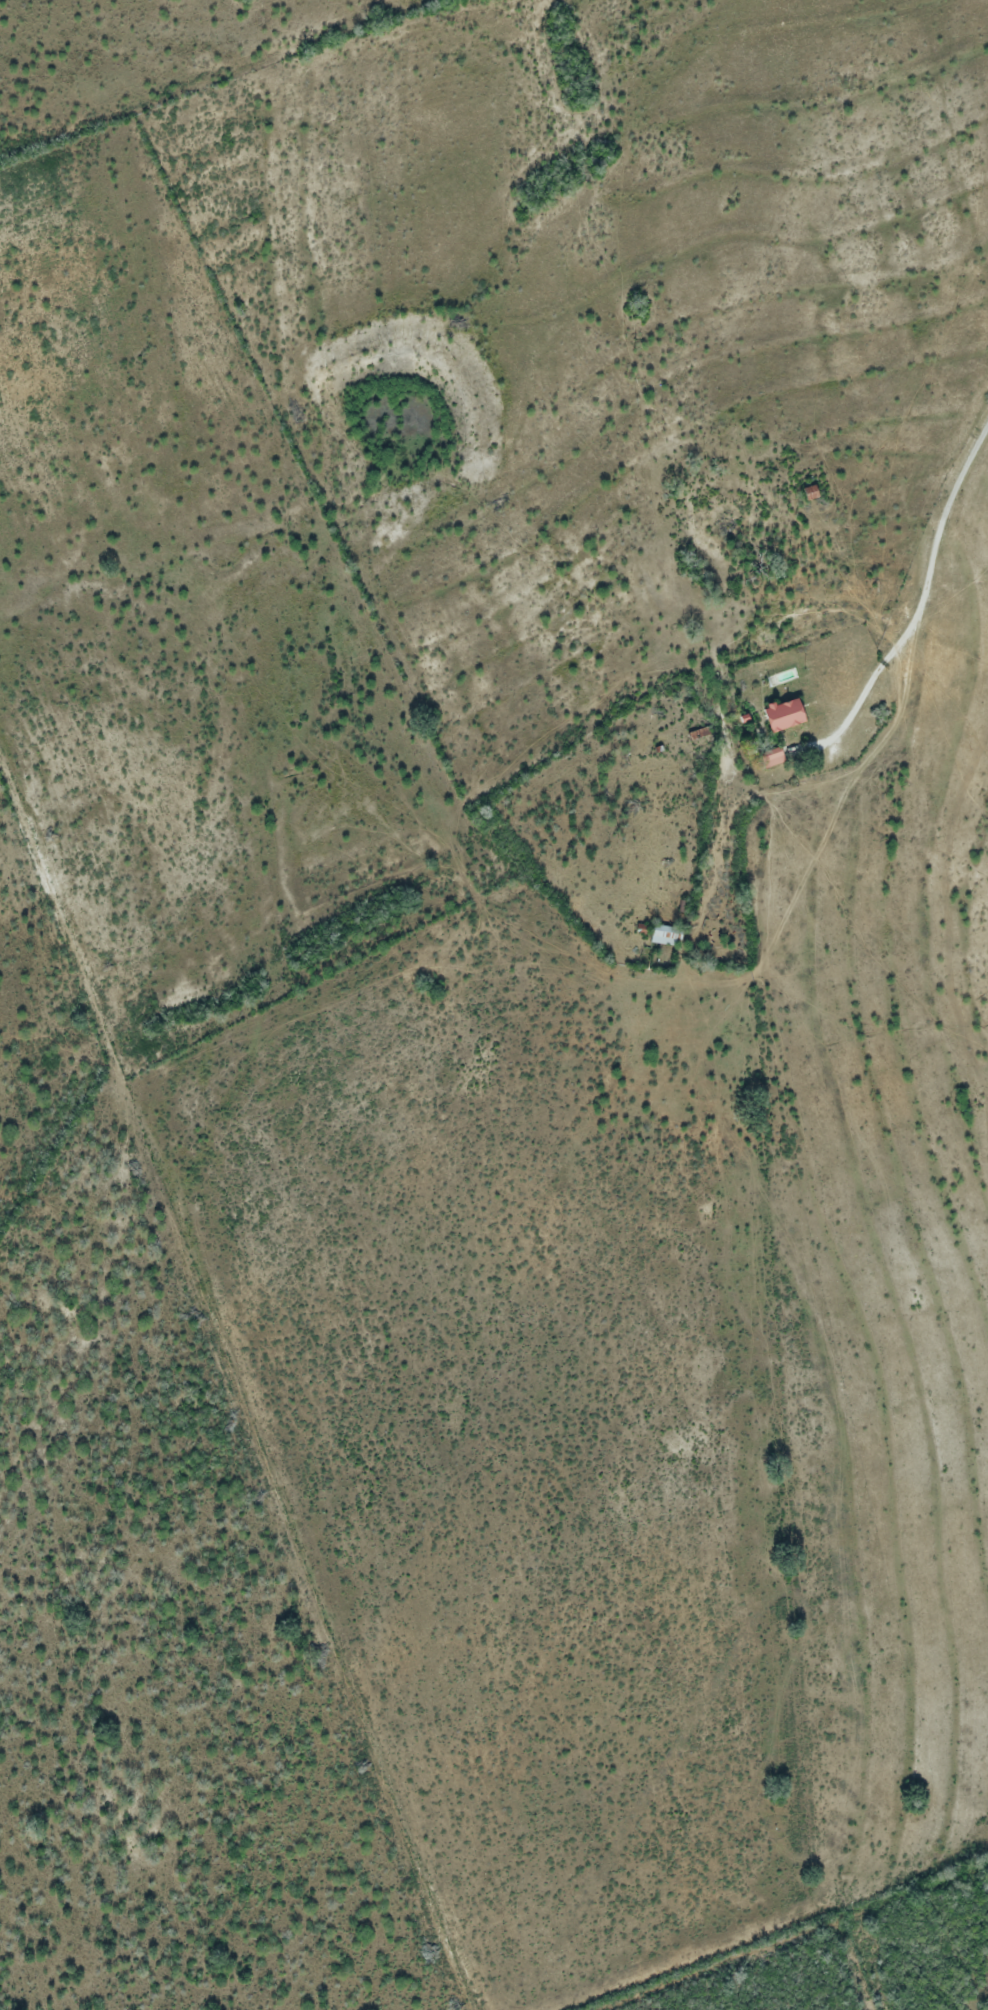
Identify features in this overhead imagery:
building: (810, 491)
road: (918, 618)
building: (784, 713)
building: (773, 755)
building: (665, 934)

